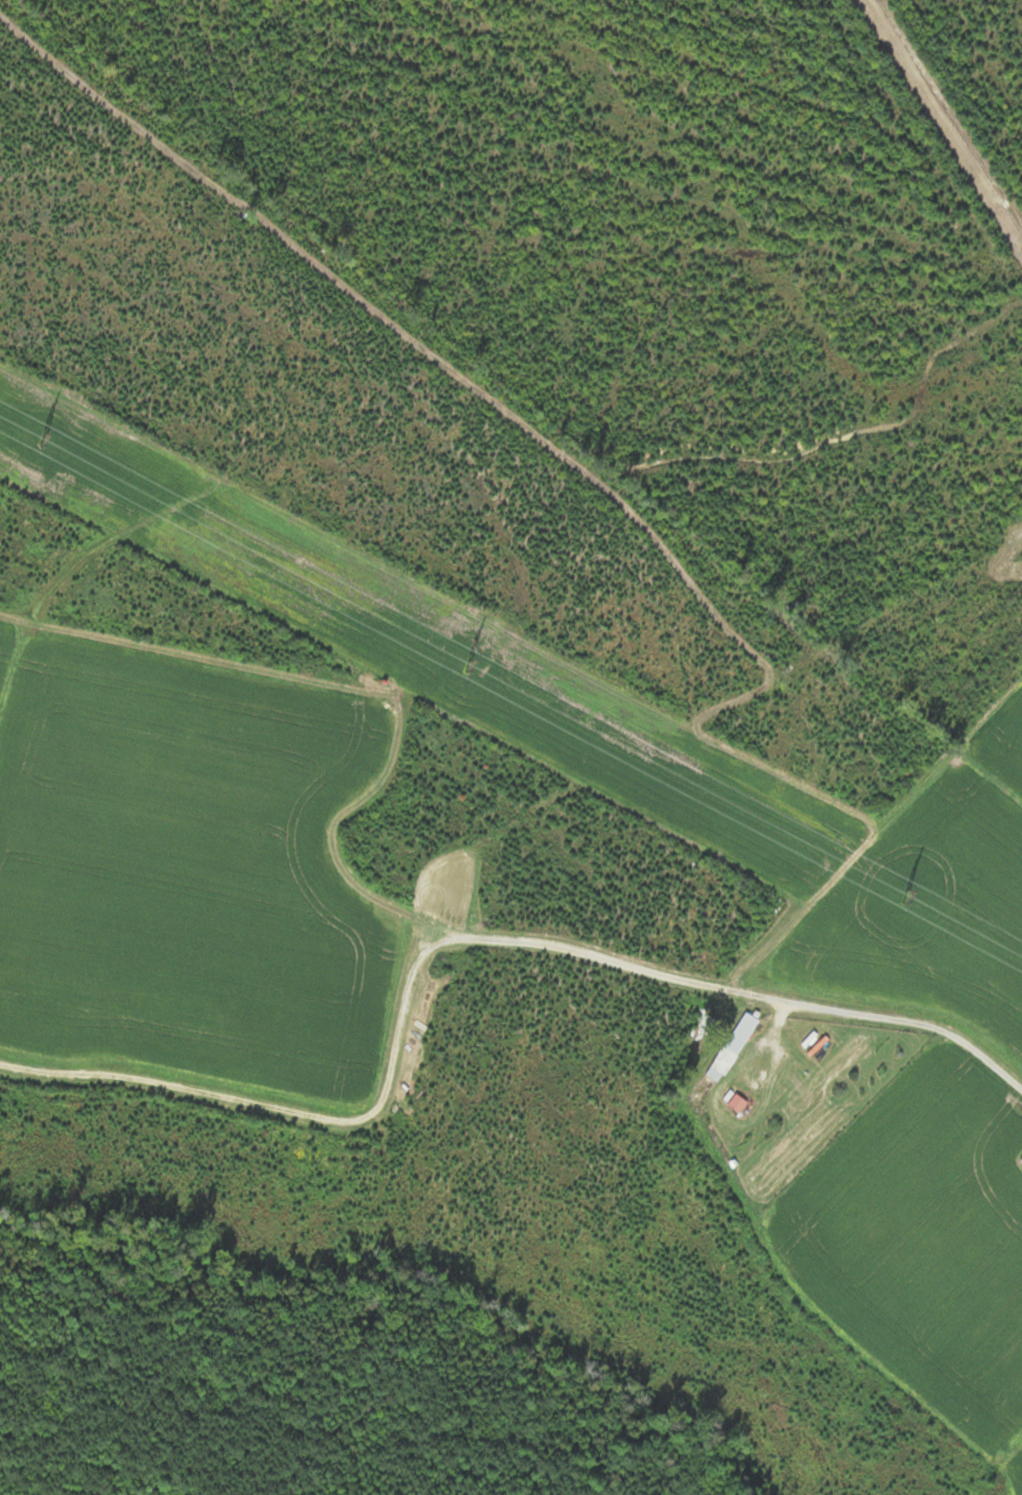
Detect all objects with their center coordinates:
power tower: (45, 440)
power tower: (470, 665)
power tower: (909, 895)
road: (909, 1022)
building: (738, 1041)
building: (737, 1101)

